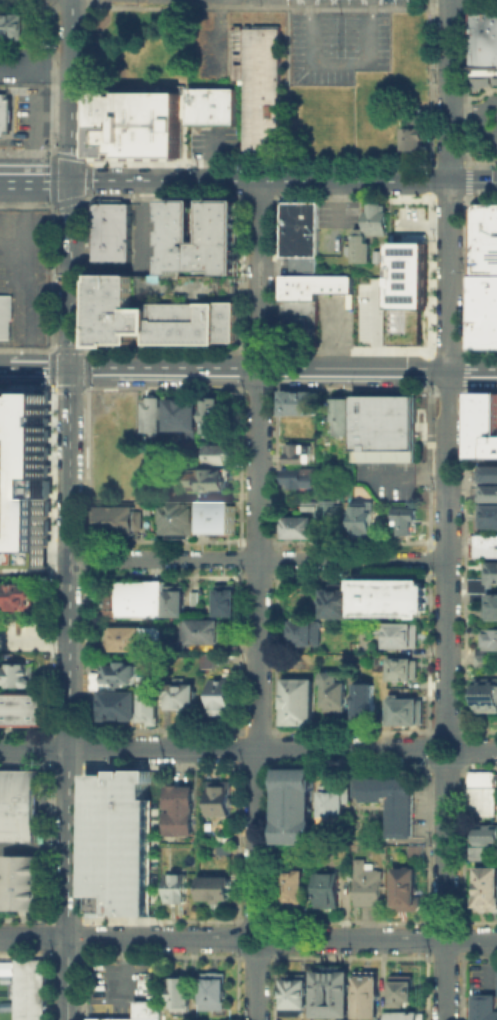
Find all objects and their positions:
building: (13, 25)
park: (188, 34)
building: (485, 38)
parking lot: (338, 46)
building: (259, 85)
building: (210, 104)
road: (487, 104)
road: (465, 113)
building: (4, 114)
building: (141, 118)
parking lot: (485, 121)
road: (485, 126)
building: (414, 134)
parking lot: (210, 139)
road: (35, 180)
traffic signals: (71, 180)
road: (283, 180)
building: (114, 228)
parking lot: (143, 229)
building: (298, 229)
building: (371, 233)
building: (485, 235)
building: (203, 236)
building: (386, 258)
building: (410, 276)
building: (305, 306)
building: (483, 312)
building: (5, 316)
building: (153, 317)
parking lot: (335, 322)
building: (365, 323)
road: (3, 365)
road: (38, 366)
traffic signals: (69, 366)
road: (448, 367)
road: (282, 369)
building: (300, 405)
building: (154, 415)
building: (184, 415)
building: (342, 417)
building: (215, 418)
building: (383, 423)
building: (482, 426)
building: (218, 455)
building: (298, 455)
road: (69, 468)
building: (489, 475)
building: (212, 480)
building: (302, 480)
building: (24, 486)
building: (489, 494)
building: (311, 508)
building: (332, 511)
building: (489, 517)
building: (221, 518)
building: (364, 519)
building: (182, 520)
building: (117, 522)
building: (407, 523)
building: (301, 529)
building: (484, 546)
road: (259, 551)
road: (257, 559)
building: (492, 574)
building: (477, 589)
building: (18, 596)
building: (388, 596)
building: (141, 600)
building: (177, 601)
building: (227, 602)
building: (335, 602)
building: (494, 609)
building: (302, 631)
building: (207, 634)
building: (400, 634)
building: (136, 640)
building: (491, 640)
building: (205, 660)
building: (484, 662)
building: (401, 667)
building: (19, 674)
building: (117, 676)
building: (331, 691)
building: (222, 698)
building: (486, 698)
building: (363, 699)
building: (182, 700)
building: (297, 700)
building: (117, 705)
building: (147, 706)
building: (403, 709)
building: (21, 710)
road: (33, 748)
road: (249, 748)
road: (479, 752)
road: (455, 761)
building: (482, 790)
building: (222, 799)
building: (394, 803)
building: (18, 805)
building: (336, 805)
building: (293, 808)
building: (182, 813)
building: (487, 836)
building: (117, 842)
building: (474, 852)
building: (417, 854)
building: (24, 881)
building: (295, 887)
building: (369, 887)
building: (487, 888)
building: (178, 889)
building: (218, 889)
building: (406, 889)
building: (329, 890)
road: (445, 892)
road: (266, 929)
road: (34, 937)
road: (155, 938)
road: (383, 939)
road: (67, 979)
road: (255, 985)
parking lot: (120, 986)
building: (29, 989)
building: (402, 990)
building: (216, 993)
building: (297, 995)
building: (368, 995)
building: (333, 996)
building: (183, 997)
building: (486, 1009)
building: (139, 1011)
building: (404, 1016)

